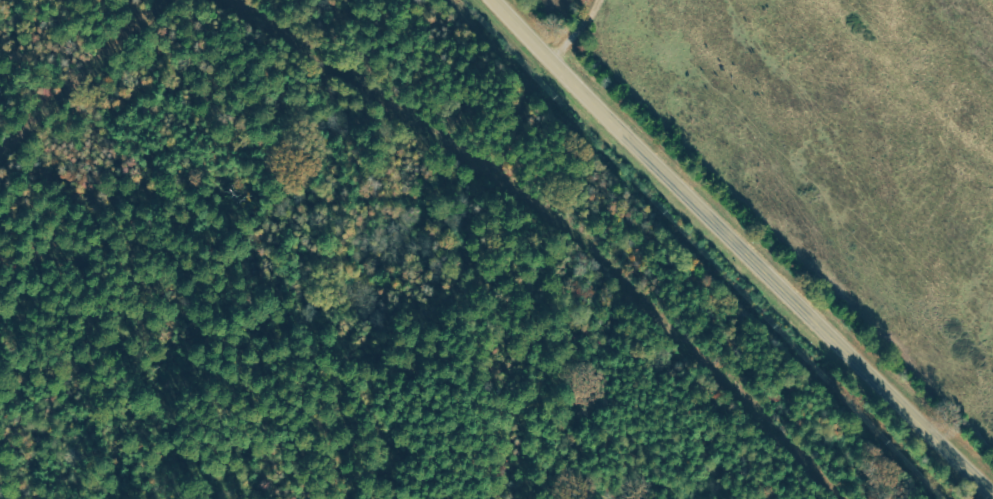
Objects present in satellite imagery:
road: (741, 248)

